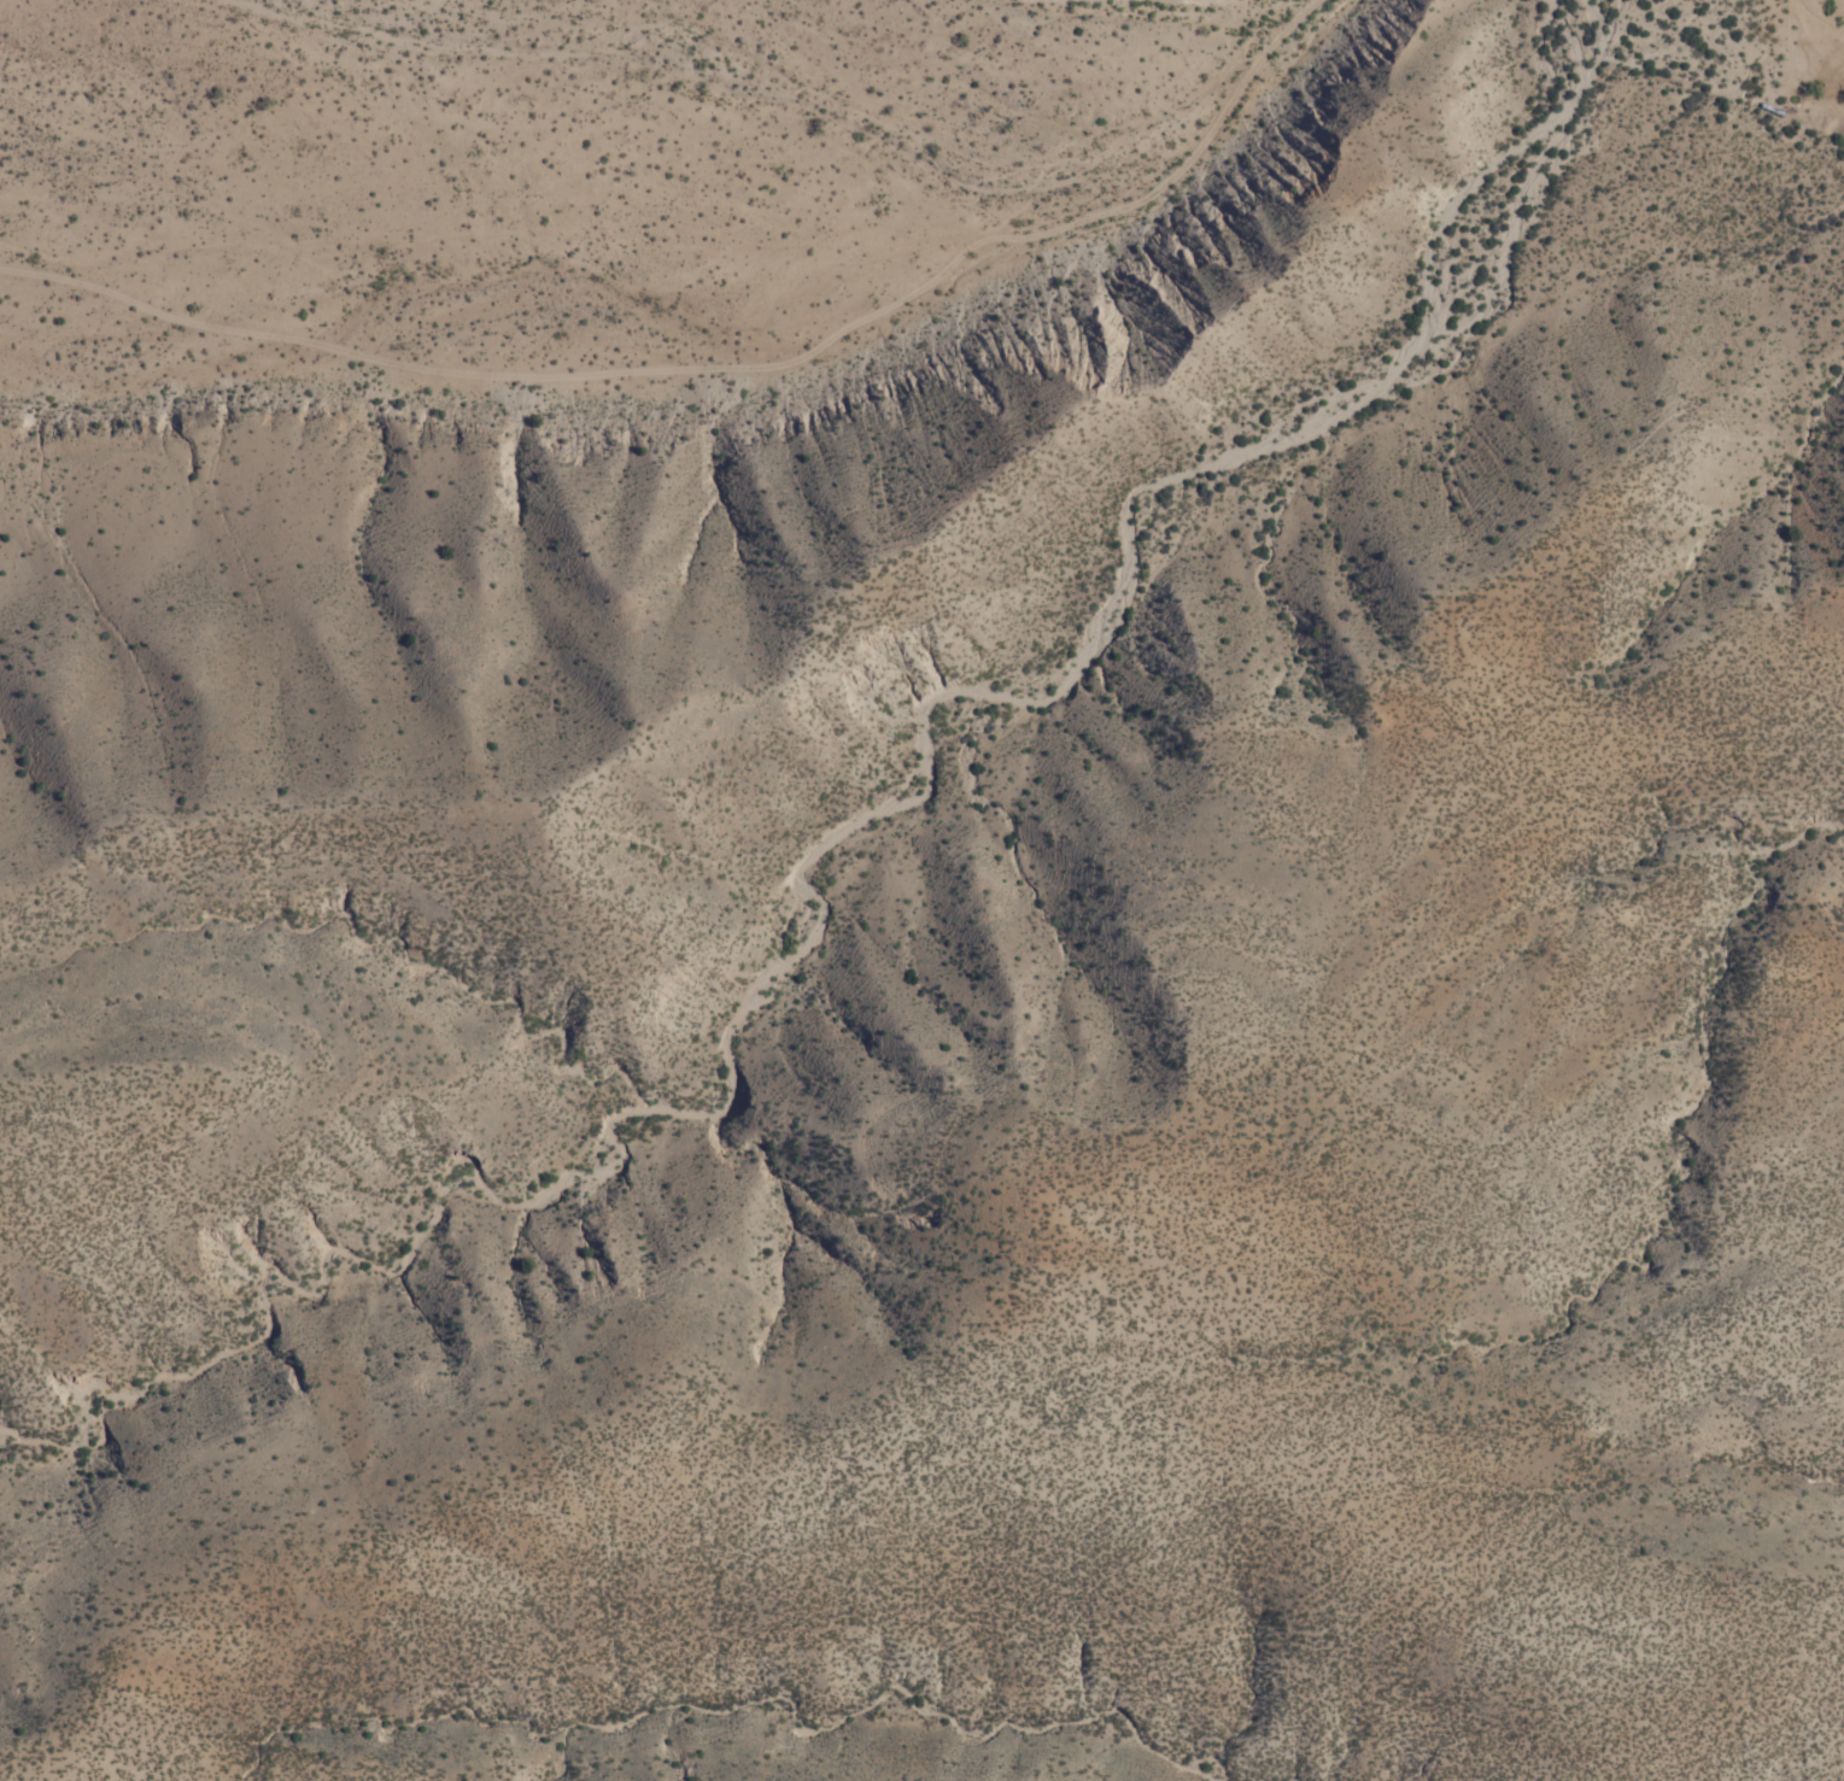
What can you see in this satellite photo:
road: (1814, 40)
road: (721, 370)

